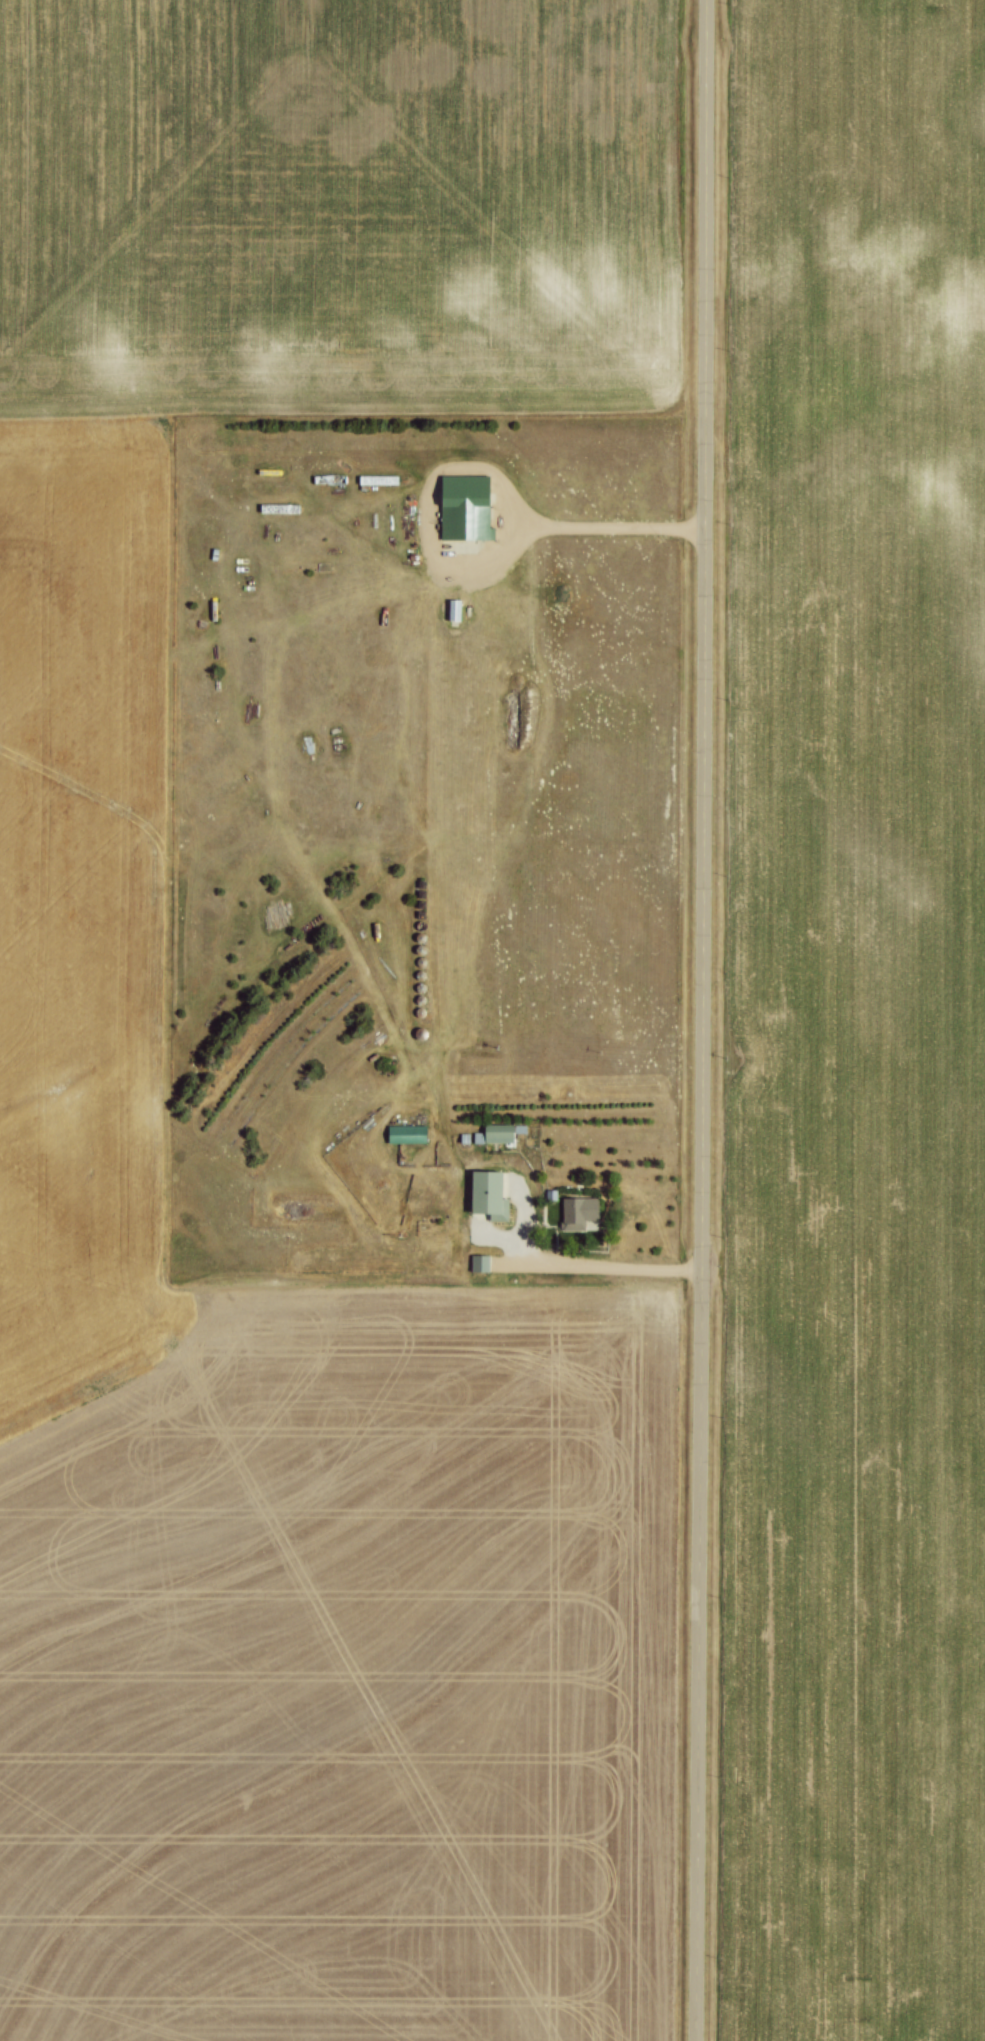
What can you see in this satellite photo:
building: (283, 488)
building: (460, 508)
road: (457, 564)
crop: (77, 851)
building: (414, 929)
silo: (414, 929)
building: (414, 941)
silo: (414, 941)
building: (415, 952)
silo: (415, 952)
building: (416, 965)
silo: (416, 965)
building: (415, 978)
silo: (415, 978)
building: (415, 990)
silo: (415, 990)
building: (415, 1003)
silo: (415, 1003)
building: (414, 1015)
silo: (414, 1015)
road: (703, 1020)
crop: (850, 1036)
building: (414, 1037)
silo: (414, 1037)
building: (497, 1134)
building: (401, 1137)
building: (471, 1141)
building: (480, 1193)
building: (576, 1211)
road: (578, 1264)
building: (472, 1266)

